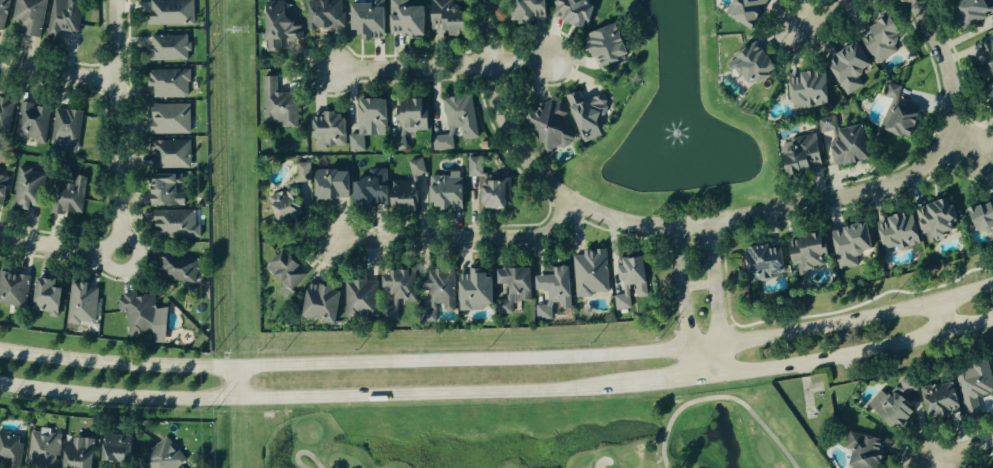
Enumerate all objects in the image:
building: (523, 10)
building: (567, 11)
building: (741, 11)
building: (970, 11)
building: (4, 12)
building: (173, 12)
road: (828, 13)
building: (329, 14)
building: (31, 16)
building: (65, 18)
building: (453, 18)
building: (373, 20)
building: (410, 20)
building: (282, 25)
power tower: (238, 31)
building: (877, 40)
building: (600, 45)
building: (171, 48)
building: (984, 58)
building: (747, 64)
road: (439, 67)
building: (844, 67)
road: (58, 74)
road: (950, 78)
building: (171, 83)
building: (805, 90)
building: (281, 104)
road: (501, 112)
building: (5, 114)
building: (584, 114)
building: (894, 116)
building: (172, 119)
building: (405, 119)
road: (118, 121)
building: (455, 121)
building: (365, 122)
building: (33, 123)
building: (547, 125)
building: (66, 129)
building: (325, 130)
building: (840, 142)
road: (969, 144)
building: (173, 154)
building: (797, 156)
building: (415, 168)
building: (303, 171)
building: (486, 186)
building: (4, 187)
building: (31, 189)
building: (169, 190)
building: (442, 191)
building: (72, 196)
building: (282, 208)
road: (753, 214)
building: (979, 218)
building: (931, 219)
building: (178, 223)
building: (893, 232)
road: (458, 239)
road: (57, 244)
building: (847, 244)
road: (136, 245)
building: (803, 252)
building: (760, 261)
road: (111, 266)
building: (181, 266)
building: (282, 272)
building: (588, 272)
building: (626, 280)
building: (509, 284)
road: (712, 284)
road: (697, 287)
road: (681, 288)
building: (14, 289)
building: (549, 291)
building: (451, 292)
building: (377, 295)
building: (51, 296)
building: (84, 302)
building: (316, 303)
building: (146, 316)
road: (940, 317)
road: (858, 320)
road: (705, 346)
road: (859, 352)
road: (722, 360)
road: (692, 363)
road: (344, 364)
building: (991, 367)
road: (676, 380)
road: (232, 383)
building: (971, 386)
road: (313, 397)
road: (722, 397)
building: (935, 400)
building: (887, 409)
park: (557, 435)
building: (11, 449)
building: (45, 449)
building: (859, 449)
building: (121, 450)
building: (82, 453)
road: (302, 454)
road: (961, 454)
building: (165, 455)
road: (930, 466)

